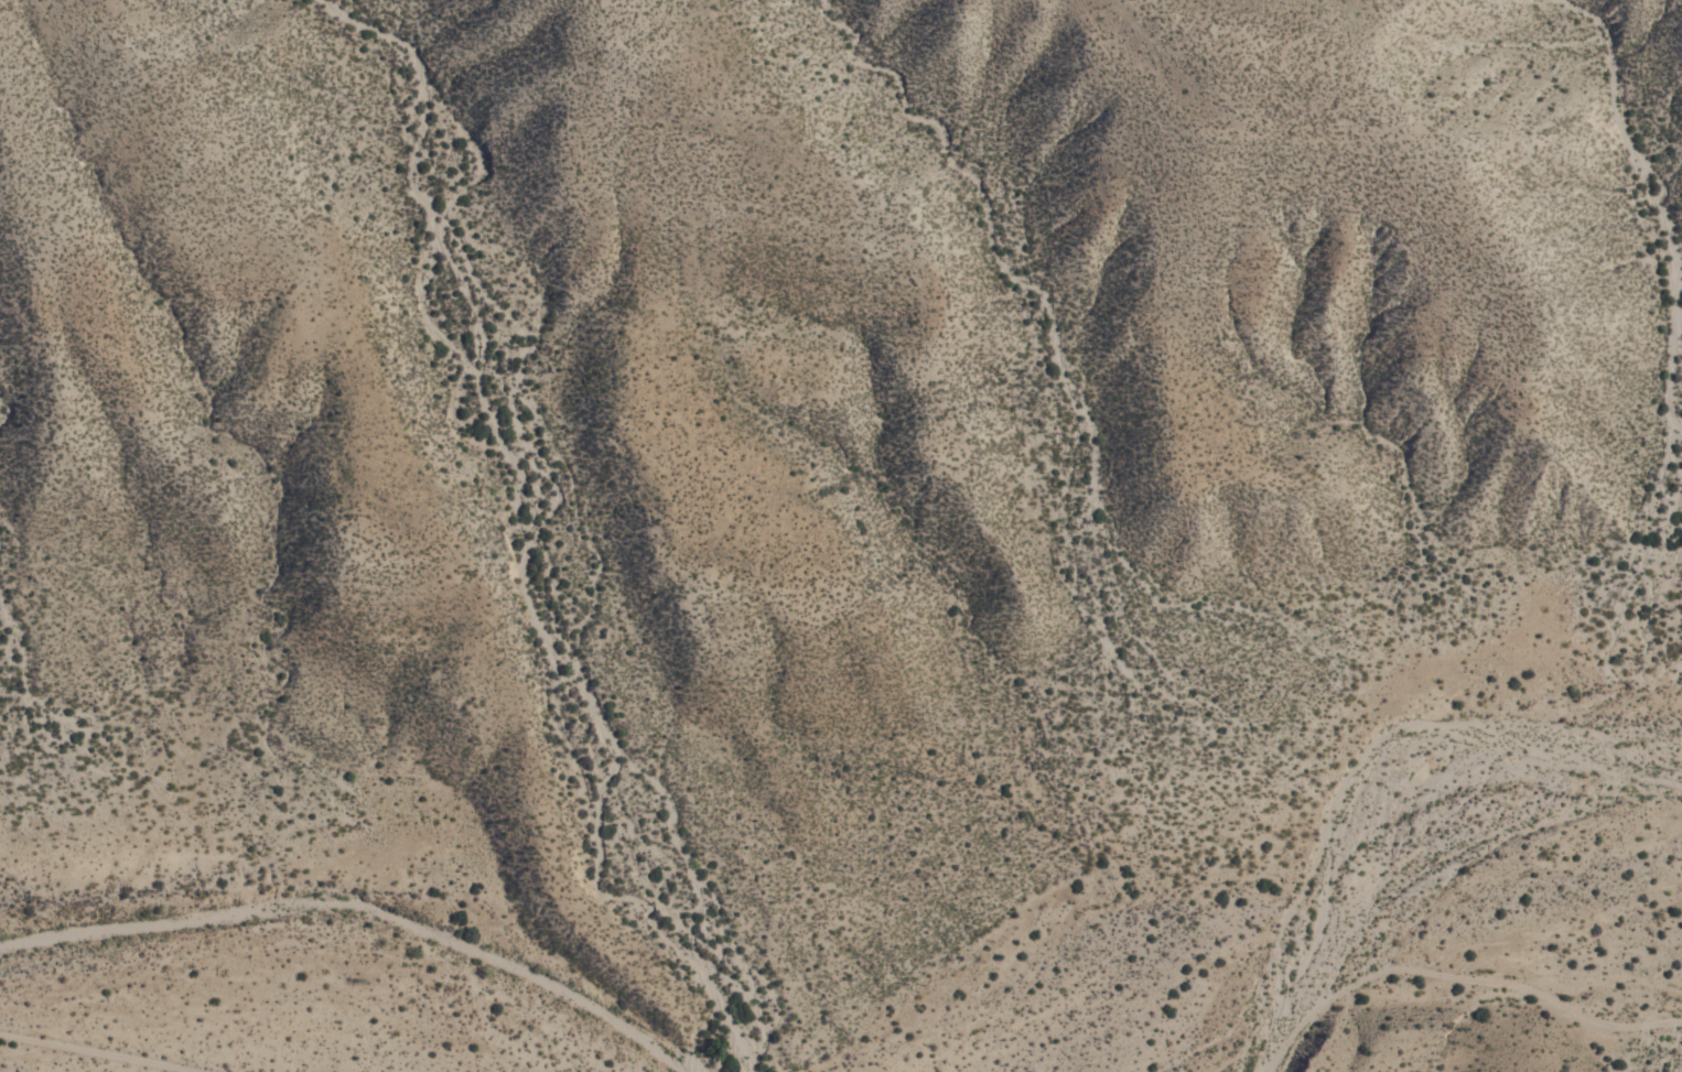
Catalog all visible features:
road: (1406, 967)
road: (105, 1053)

